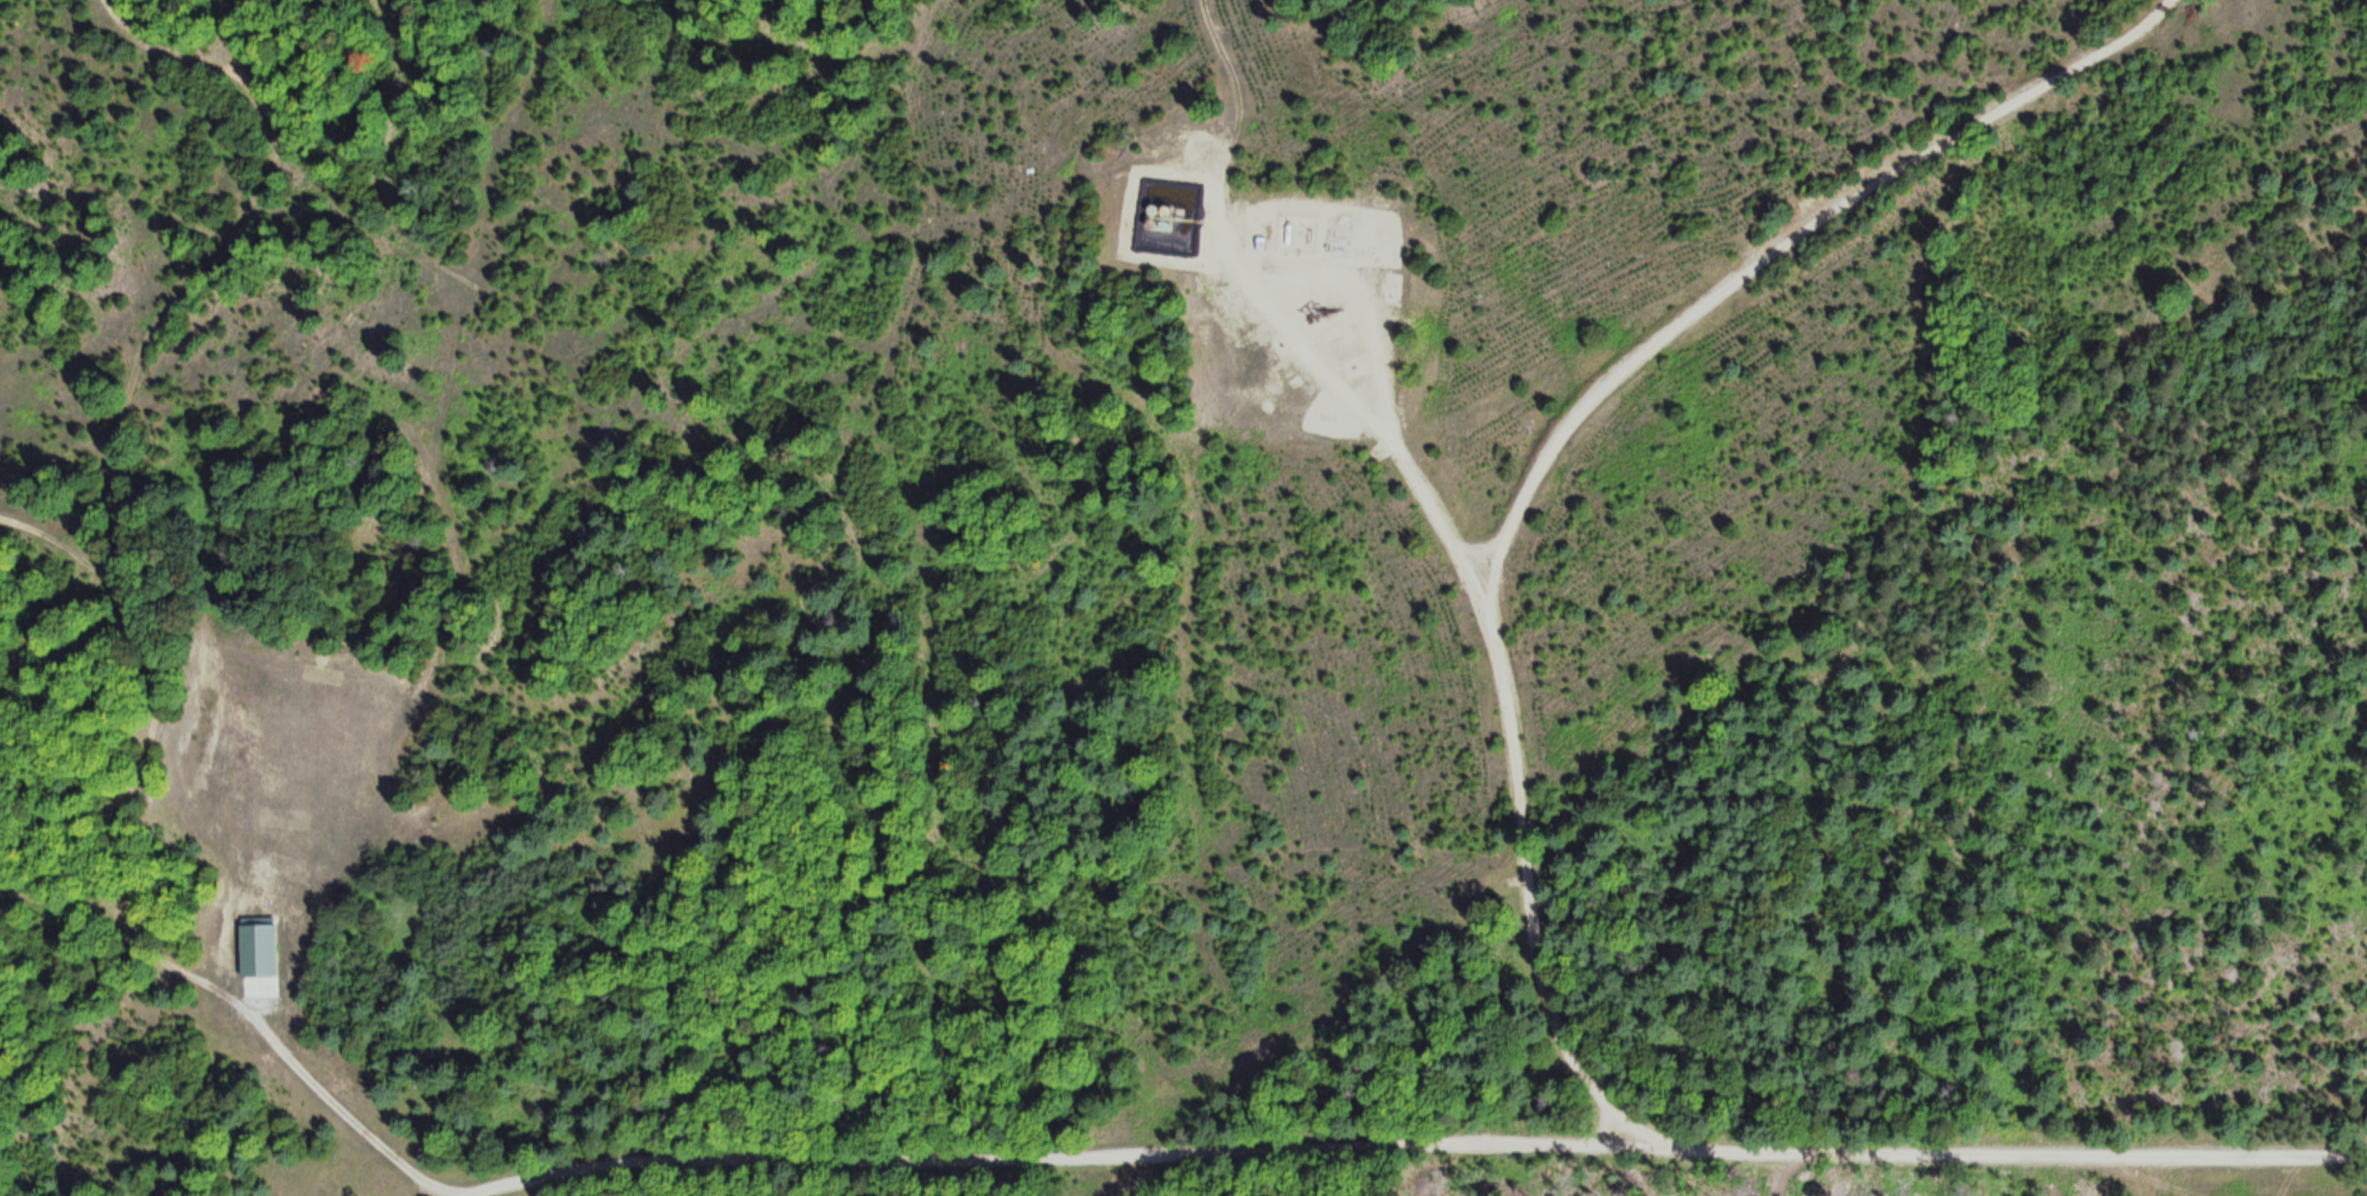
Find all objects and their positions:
building: (1340, 234)
road: (1362, 284)
petroleum well: (1324, 306)
road: (1343, 368)
road: (1551, 432)
road: (72, 545)
road: (135, 606)
building: (255, 935)
road: (256, 987)
road: (1517, 1138)
road: (560, 1165)
road: (2151, 1169)

